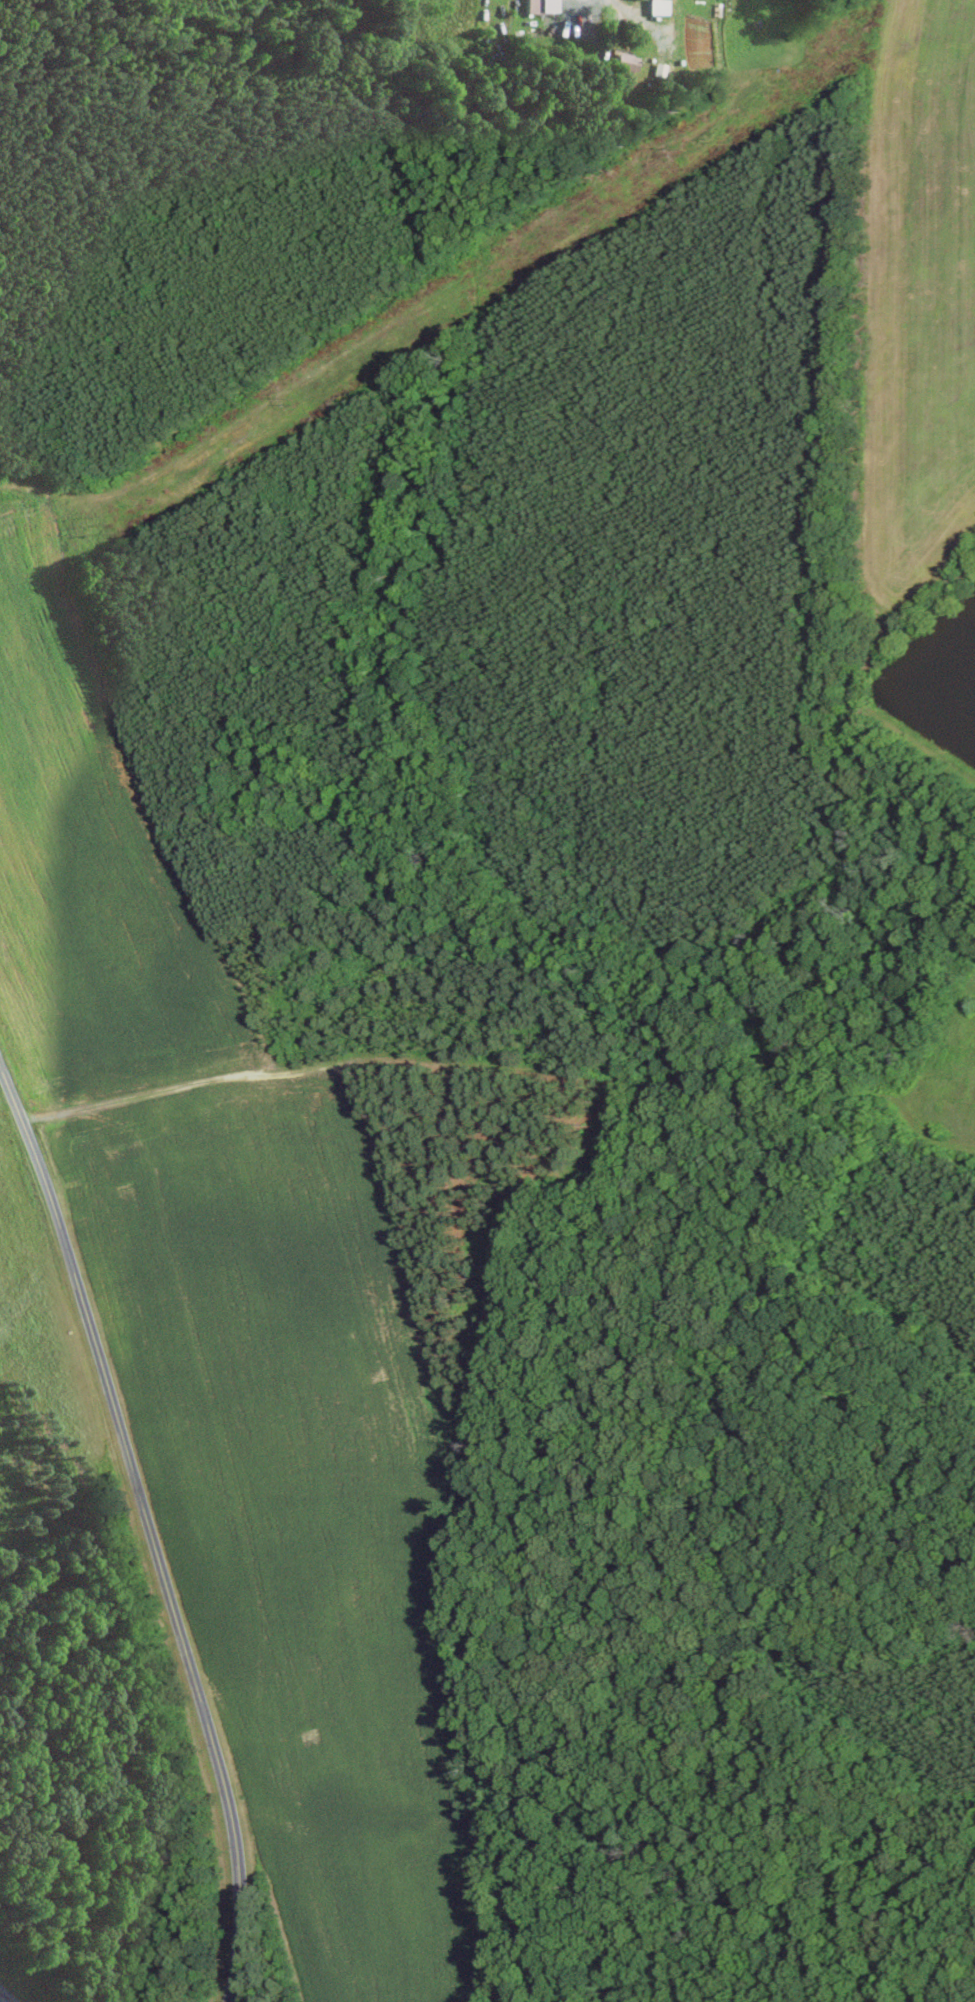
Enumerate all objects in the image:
building: (548, 5)
building: (658, 6)
road: (638, 15)
building: (626, 61)
road: (155, 1092)
road: (145, 1526)
road: (7, 1995)

